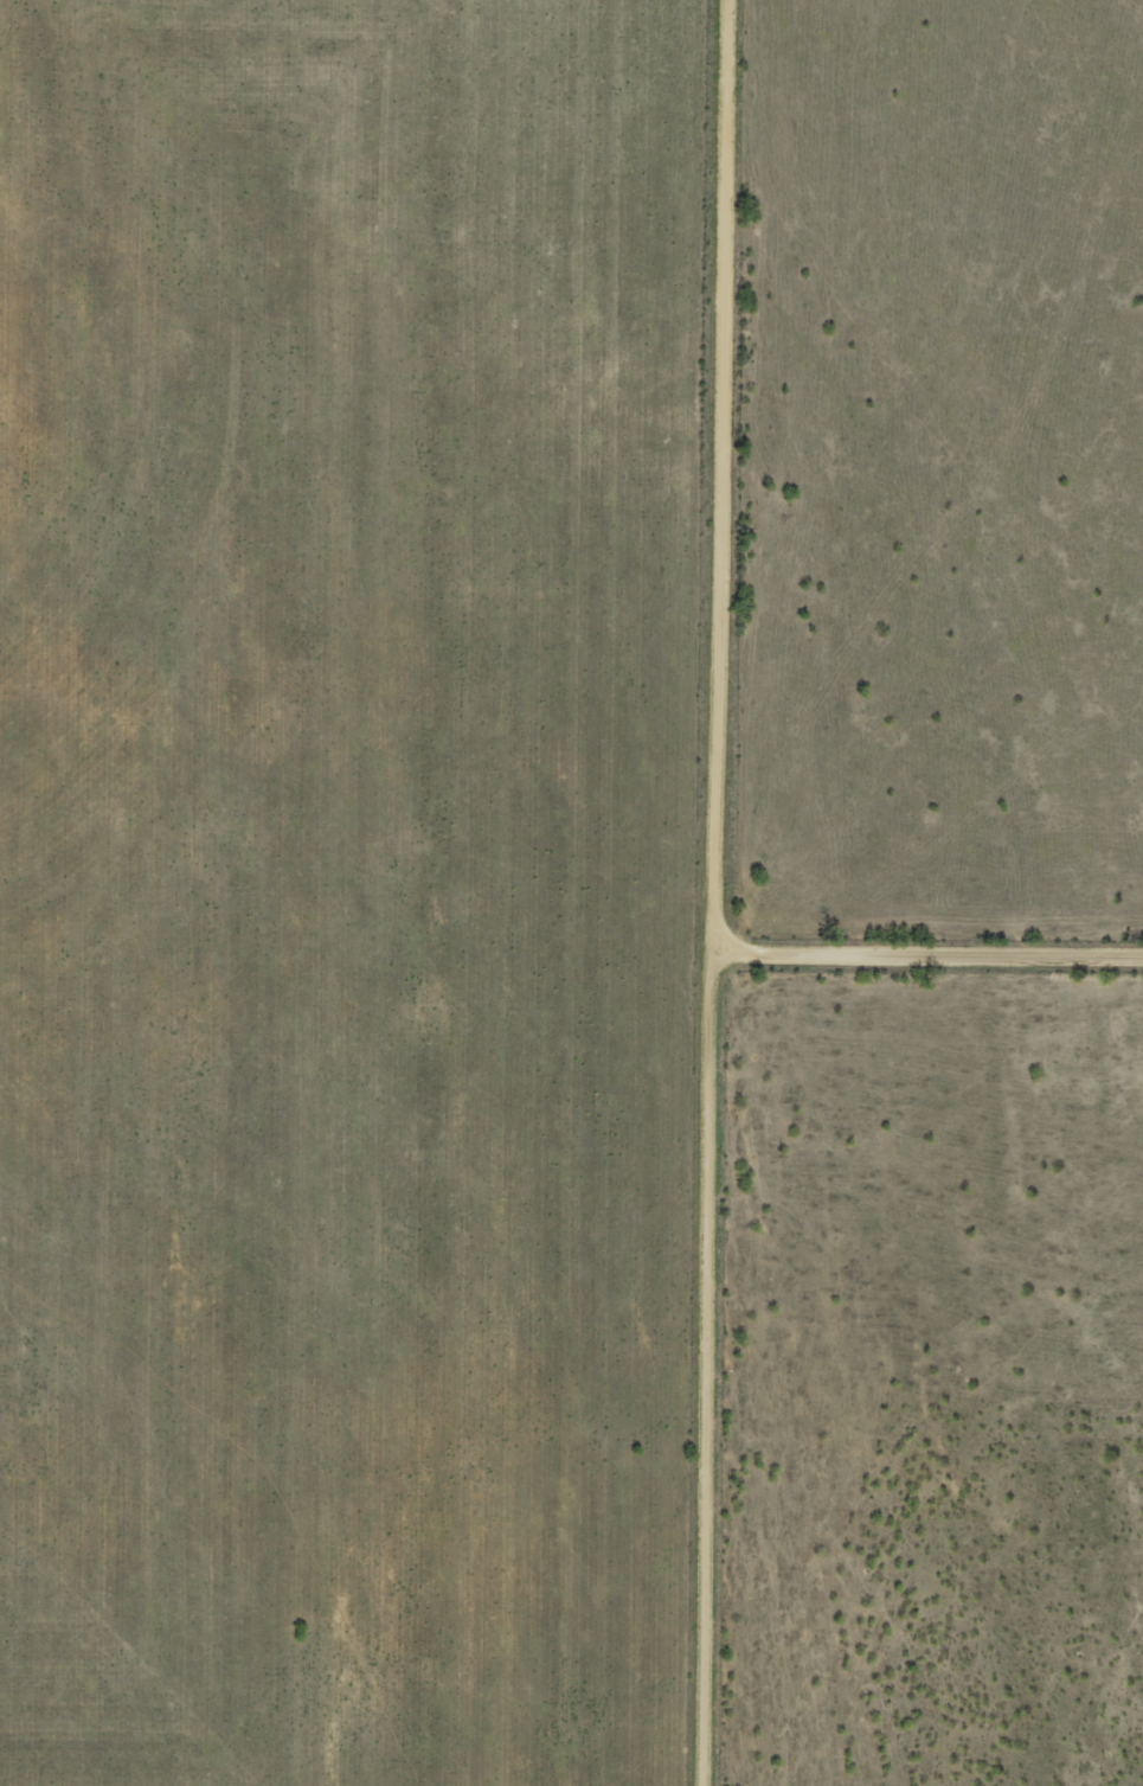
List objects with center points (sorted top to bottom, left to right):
road: (740, 892)
road: (942, 929)

